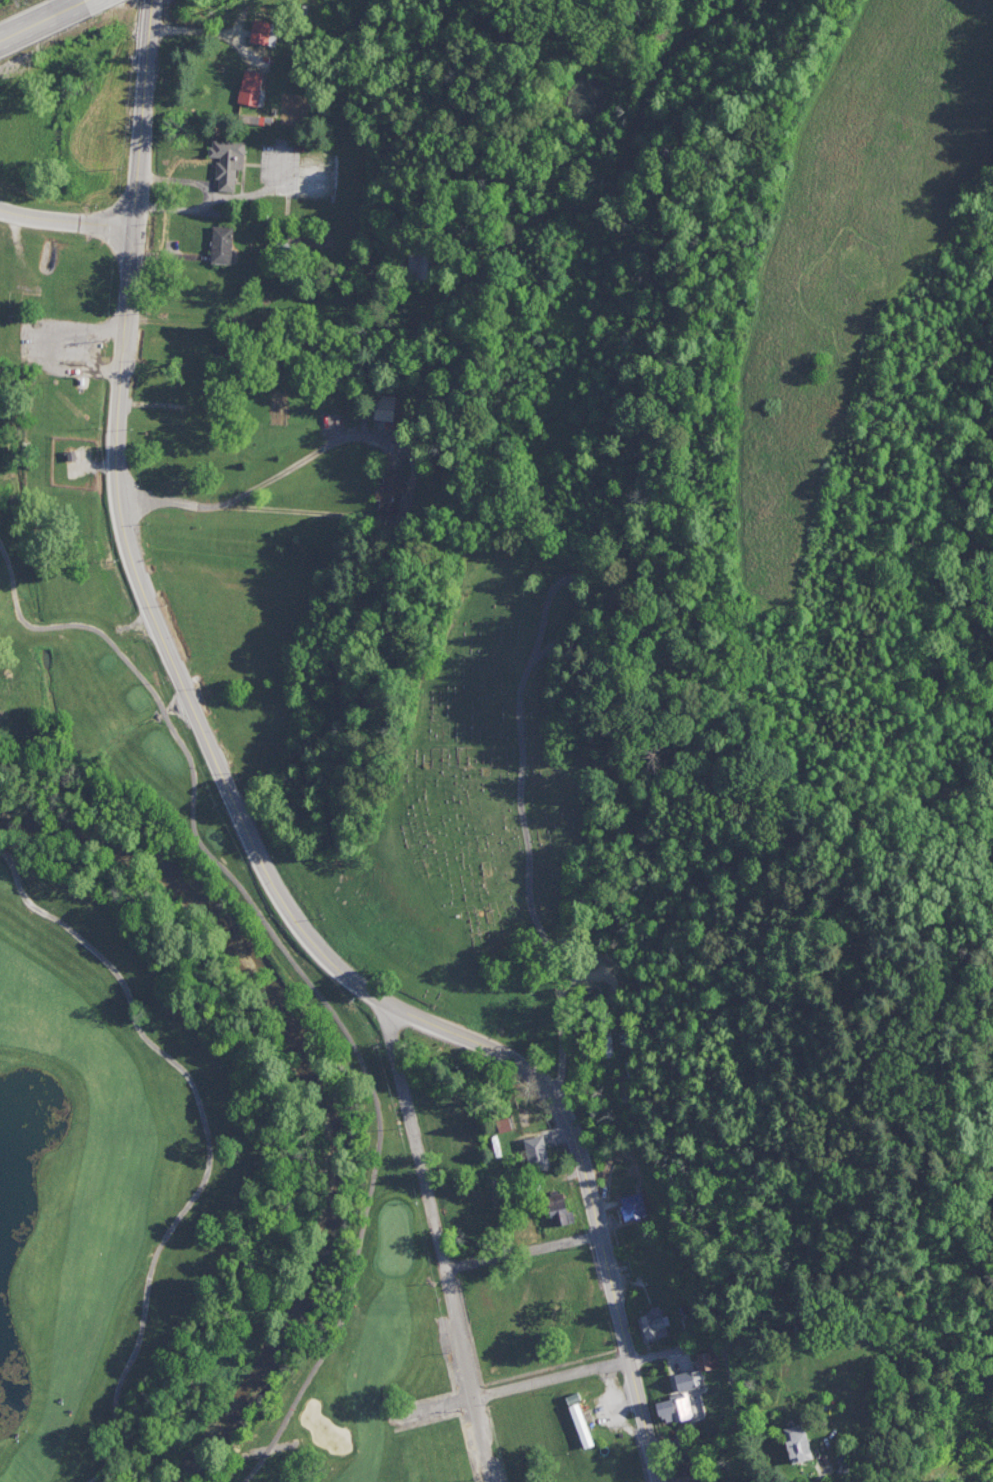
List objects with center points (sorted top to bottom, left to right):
road: (82, 4)
road: (36, 24)
building: (263, 39)
building: (253, 86)
road: (147, 117)
building: (228, 161)
road: (65, 228)
building: (287, 240)
building: (224, 244)
building: (417, 266)
building: (386, 406)
building: (72, 453)
road: (311, 453)
building: (392, 491)
road: (251, 508)
road: (525, 778)
road: (191, 784)
park: (501, 802)
road: (294, 919)
park: (158, 1033)
building: (620, 1083)
road: (204, 1145)
building: (539, 1152)
road: (606, 1160)
building: (632, 1205)
building: (560, 1208)
road: (438, 1244)
road: (522, 1255)
road: (345, 1287)
building: (655, 1320)
road: (722, 1351)
building: (707, 1359)
road: (550, 1379)
building: (685, 1379)
building: (677, 1408)
road: (431, 1409)
building: (582, 1424)
building: (806, 1441)
building: (692, 1478)

